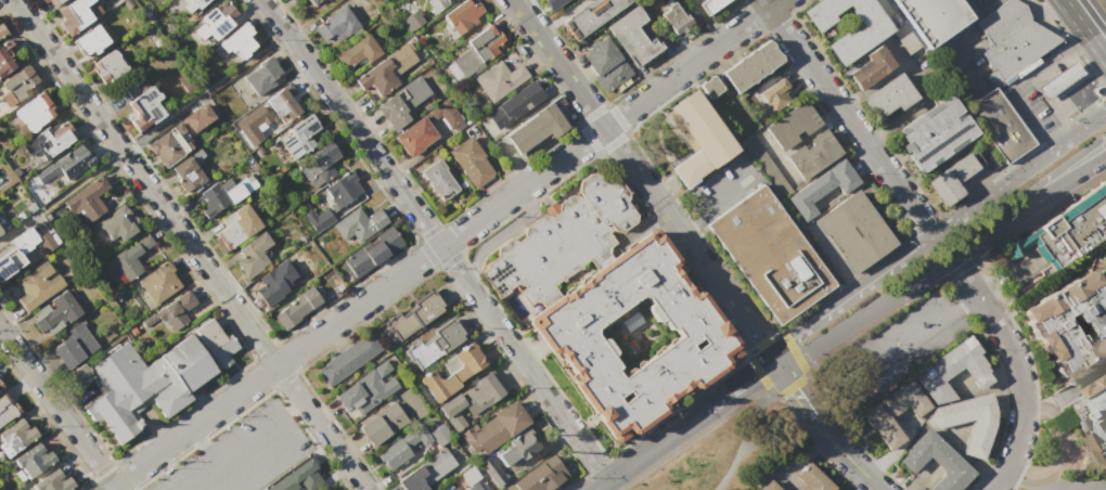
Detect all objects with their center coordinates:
building: (51, 3)
building: (555, 3)
building: (193, 4)
building: (304, 4)
building: (709, 7)
building: (422, 12)
building: (77, 15)
building: (464, 16)
building: (590, 17)
building: (930, 17)
road: (1073, 17)
building: (676, 20)
building: (216, 23)
building: (335, 27)
road: (956, 30)
building: (1, 31)
building: (1011, 37)
building: (633, 39)
building: (856, 40)
building: (91, 41)
building: (241, 43)
road: (1096, 48)
building: (477, 50)
building: (357, 54)
building: (8, 57)
road: (1049, 61)
road: (557, 63)
road: (691, 63)
building: (604, 65)
building: (750, 67)
building: (108, 68)
building: (867, 69)
building: (262, 76)
building: (501, 76)
road: (1090, 76)
building: (1058, 79)
gas station: (1058, 79)
building: (376, 80)
building: (20, 83)
building: (710, 89)
road: (1103, 93)
road: (829, 95)
building: (775, 96)
building: (216, 98)
road: (1103, 100)
building: (887, 101)
road: (1084, 103)
building: (403, 104)
building: (141, 105)
building: (282, 106)
building: (513, 106)
road: (1054, 107)
road: (1026, 109)
road: (1101, 114)
building: (35, 115)
building: (229, 115)
building: (445, 116)
building: (187, 117)
building: (999, 125)
road: (1084, 126)
building: (792, 127)
building: (533, 132)
building: (299, 134)
building: (933, 136)
building: (415, 137)
road: (1047, 139)
road: (1064, 141)
building: (48, 142)
building: (698, 145)
building: (167, 149)
building: (812, 156)
building: (472, 162)
building: (65, 164)
building: (318, 165)
building: (764, 166)
building: (967, 173)
building: (185, 175)
road: (1075, 175)
building: (438, 180)
building: (942, 189)
building: (223, 192)
building: (343, 192)
road: (719, 192)
building: (822, 192)
building: (87, 199)
road: (665, 211)
road: (914, 212)
building: (318, 218)
road: (681, 218)
building: (357, 223)
building: (233, 228)
building: (118, 230)
building: (0, 231)
building: (850, 235)
road: (434, 237)
building: (1056, 238)
building: (24, 241)
building: (47, 242)
road: (189, 245)
road: (910, 250)
building: (370, 253)
building: (1102, 255)
building: (253, 256)
building: (769, 257)
building: (128, 258)
building: (10, 266)
building: (158, 283)
road: (908, 285)
building: (36, 286)
building: (269, 287)
building: (498, 297)
building: (296, 308)
road: (353, 308)
building: (171, 311)
building: (610, 311)
building: (57, 312)
building: (413, 315)
road: (742, 319)
building: (1068, 323)
traffic signals: (793, 337)
traffic signals: (756, 339)
building: (216, 340)
building: (435, 344)
building: (72, 346)
road: (890, 350)
road: (763, 351)
building: (348, 359)
road: (1015, 366)
building: (953, 372)
traffic signals: (756, 373)
building: (79, 375)
building: (453, 375)
building: (145, 382)
road: (736, 385)
building: (0, 388)
building: (366, 388)
road: (792, 389)
traffic signals: (792, 389)
building: (473, 400)
road: (57, 409)
building: (5, 410)
road: (286, 413)
building: (892, 415)
building: (1091, 416)
building: (382, 423)
building: (493, 427)
road: (751, 427)
road: (263, 428)
building: (982, 428)
building: (16, 434)
building: (439, 435)
road: (1065, 436)
building: (415, 438)
park: (723, 440)
road: (204, 444)
building: (514, 448)
road: (646, 449)
building: (394, 453)
parking lot: (241, 454)
road: (846, 455)
building: (33, 459)
building: (935, 460)
building: (427, 472)
building: (487, 472)
building: (543, 474)
building: (468, 475)
building: (298, 477)
building: (811, 478)
building: (52, 480)
road: (1032, 481)
building: (768, 486)
building: (467, 488)
road: (1101, 488)
building: (329, 489)
building: (332, 489)
building: (835, 489)

